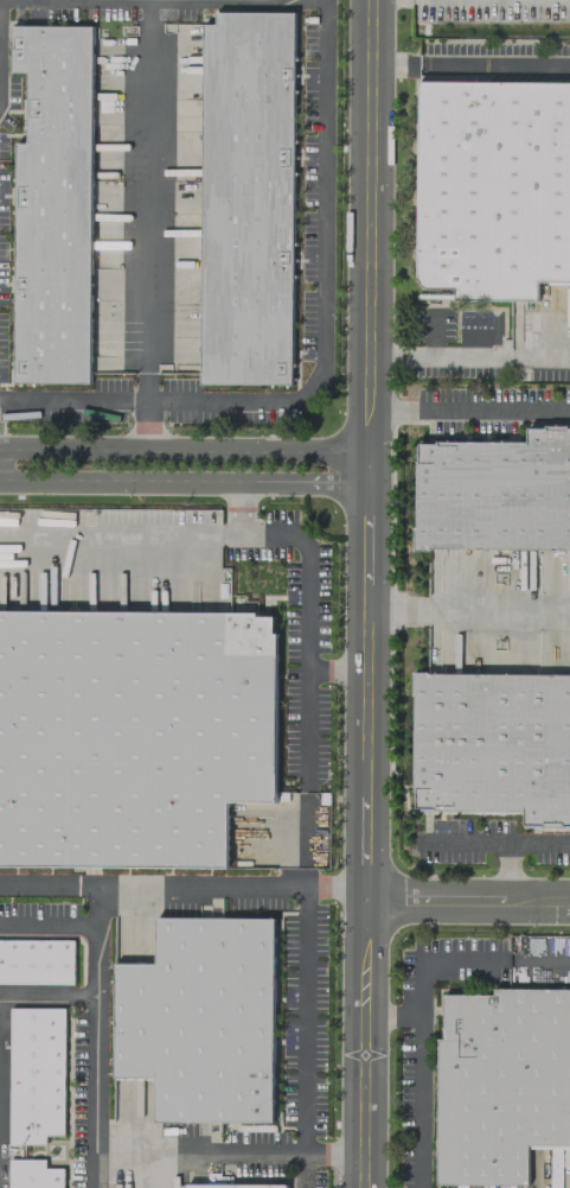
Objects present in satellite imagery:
road: (395, 63)
road: (494, 63)
building: (493, 185)
building: (245, 198)
road: (146, 202)
building: (52, 204)
road: (370, 204)
road: (324, 280)
road: (466, 332)
road: (433, 333)
road: (389, 355)
road: (459, 355)
road: (539, 355)
road: (72, 401)
road: (392, 408)
road: (493, 408)
road: (146, 426)
road: (369, 436)
road: (72, 449)
road: (258, 449)
road: (73, 481)
road: (260, 481)
building: (494, 491)
road: (238, 506)
road: (109, 529)
road: (229, 531)
road: (397, 611)
road: (499, 611)
road: (306, 633)
road: (335, 671)
building: (132, 733)
building: (493, 743)
road: (363, 825)
road: (305, 839)
road: (463, 840)
road: (538, 841)
road: (508, 870)
road: (152, 884)
road: (334, 887)
road: (435, 900)
road: (539, 901)
road: (435, 959)
road: (538, 959)
building: (36, 961)
road: (47, 995)
road: (94, 1008)
road: (390, 1015)
building: (199, 1019)
road: (303, 1037)
building: (36, 1075)
building: (501, 1082)
road: (417, 1101)
road: (158, 1152)
road: (262, 1152)
road: (332, 1154)
building: (33, 1174)
building: (235, 1186)

